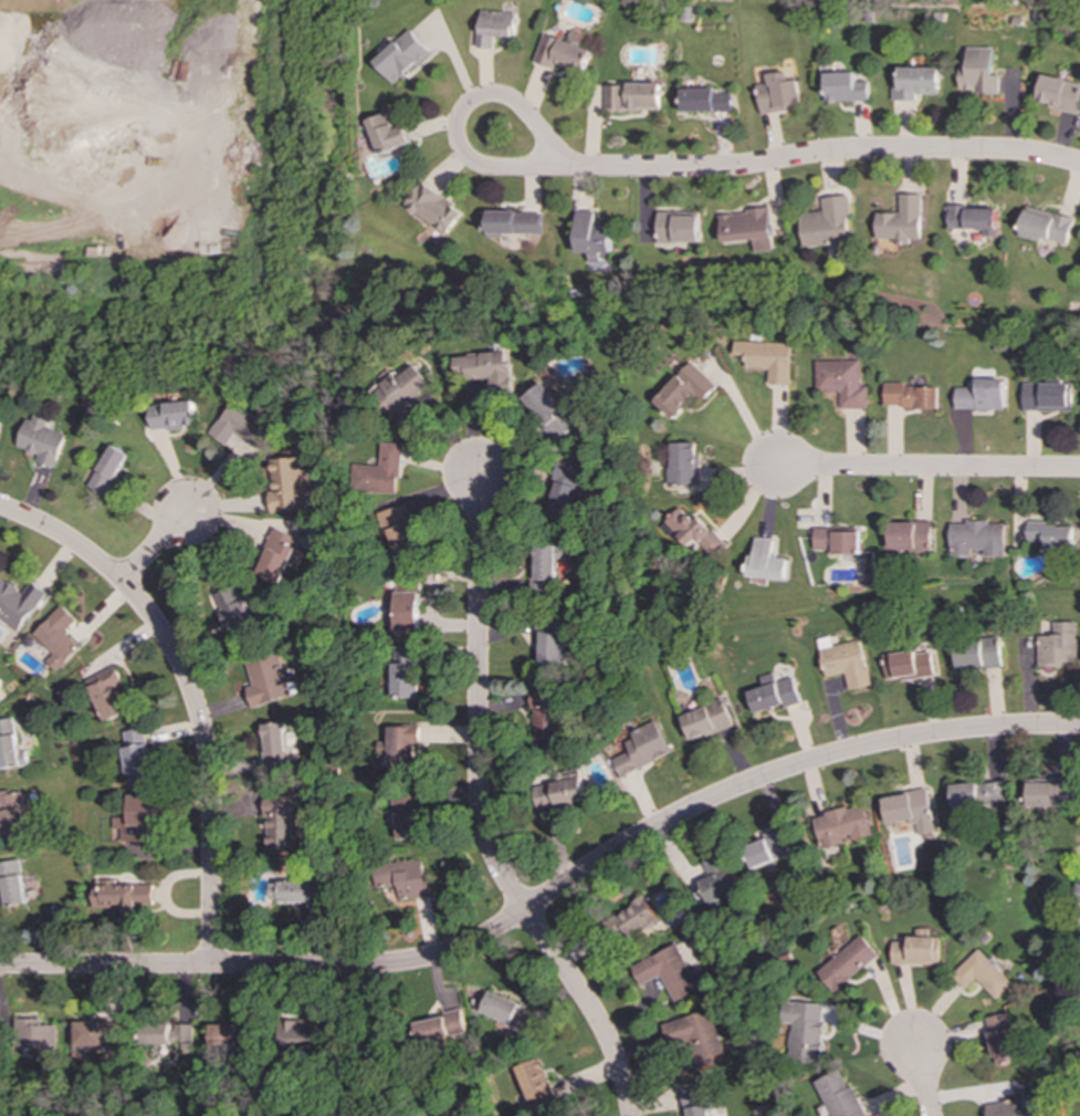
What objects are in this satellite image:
building: (495, 28)
building: (563, 54)
building: (402, 56)
building: (979, 72)
building: (916, 83)
building: (846, 87)
building: (780, 93)
building: (1059, 93)
building: (633, 96)
building: (706, 101)
road: (534, 125)
building: (388, 134)
road: (832, 153)
building: (434, 208)
building: (975, 219)
building: (902, 221)
building: (514, 223)
building: (828, 226)
building: (679, 228)
building: (747, 228)
building: (591, 237)
building: (768, 359)
building: (485, 368)
building: (842, 383)
building: (683, 390)
building: (403, 394)
building: (912, 396)
building: (983, 396)
building: (1048, 397)
road: (741, 414)
building: (174, 416)
building: (1, 426)
building: (242, 427)
building: (43, 440)
building: (683, 463)
road: (926, 466)
building: (109, 470)
building: (380, 472)
building: (287, 484)
building: (565, 491)
building: (695, 532)
building: (399, 534)
building: (1053, 535)
building: (911, 536)
building: (979, 538)
building: (839, 541)
road: (151, 546)
building: (279, 556)
building: (765, 562)
building: (547, 565)
building: (18, 603)
building: (407, 604)
building: (235, 614)
building: (57, 637)
building: (1059, 645)
building: (553, 648)
building: (978, 654)
building: (846, 663)
building: (909, 665)
building: (406, 672)
building: (269, 680)
building: (107, 693)
building: (773, 693)
road: (190, 695)
road: (476, 697)
building: (705, 720)
building: (10, 745)
building: (402, 747)
building: (275, 748)
building: (641, 749)
building: (136, 754)
building: (560, 792)
building: (1047, 792)
building: (979, 794)
building: (910, 811)
building: (12, 814)
building: (408, 816)
building: (136, 820)
building: (280, 823)
building: (842, 825)
building: (766, 849)
building: (403, 879)
building: (716, 879)
building: (11, 883)
building: (292, 891)
building: (120, 895)
road: (549, 895)
building: (635, 919)
building: (916, 950)
building: (848, 963)
building: (671, 973)
building: (982, 974)
road: (587, 1008)
building: (505, 1012)
building: (437, 1028)
building: (805, 1030)
building: (155, 1032)
building: (303, 1033)
building: (96, 1036)
building: (182, 1036)
building: (695, 1036)
building: (36, 1037)
building: (1003, 1039)
building: (223, 1040)
road: (922, 1078)
building: (535, 1084)
building: (839, 1096)
building: (696, 1102)

